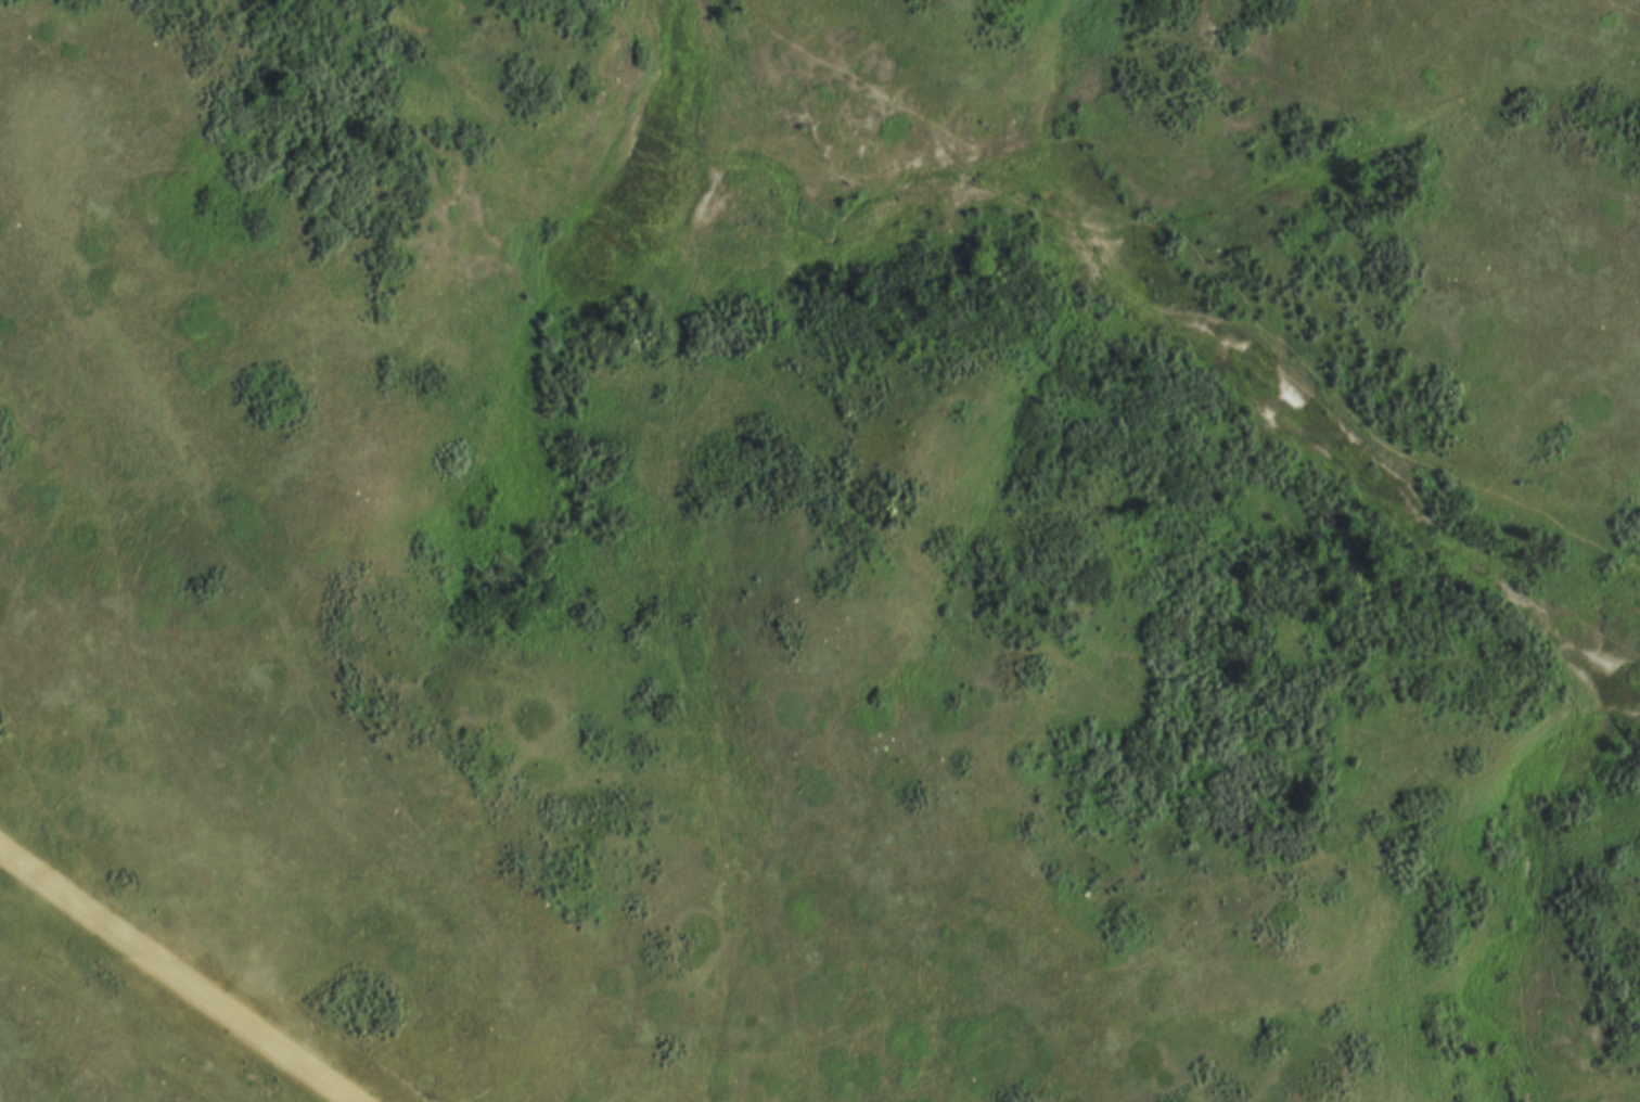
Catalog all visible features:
road: (178, 977)

